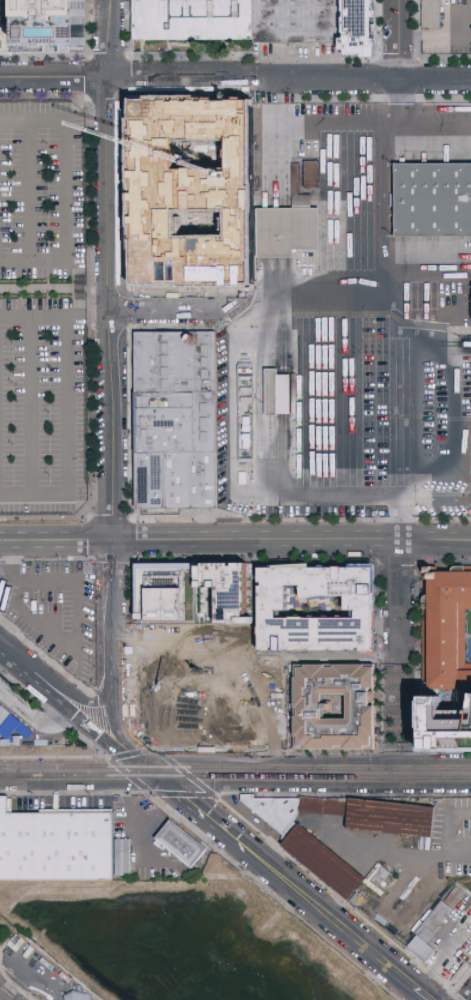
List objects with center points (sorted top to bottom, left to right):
building: (431, 14)
building: (194, 19)
building: (297, 19)
building: (367, 26)
building: (45, 28)
road: (445, 36)
road: (112, 38)
road: (403, 40)
road: (56, 77)
road: (291, 79)
road: (345, 124)
road: (150, 125)
road: (189, 125)
building: (314, 171)
road: (220, 173)
building: (248, 190)
road: (30, 191)
road: (67, 191)
building: (433, 200)
building: (289, 231)
building: (182, 233)
road: (45, 287)
parking lot: (42, 307)
road: (91, 307)
road: (114, 308)
road: (167, 308)
road: (394, 331)
road: (256, 332)
building: (278, 393)
road: (357, 403)
road: (32, 405)
road: (67, 405)
building: (174, 417)
road: (58, 539)
road: (294, 540)
road: (47, 558)
road: (12, 571)
building: (196, 594)
road: (398, 599)
building: (283, 602)
parking lot: (55, 609)
road: (76, 631)
road: (114, 639)
road: (1, 647)
road: (46, 656)
road: (332, 658)
building: (446, 659)
building: (171, 664)
road: (55, 689)
building: (250, 703)
building: (319, 704)
road: (399, 715)
road: (34, 719)
building: (14, 722)
building: (175, 725)
road: (94, 744)
road: (134, 753)
railway: (235, 767)
road: (182, 771)
railway: (263, 771)
road: (338, 772)
railway: (254, 775)
railway: (18, 776)
railway: (18, 777)
road: (80, 783)
building: (294, 807)
road: (129, 810)
building: (395, 814)
building: (181, 844)
building: (60, 845)
road: (217, 847)
road: (405, 853)
building: (326, 859)
road: (294, 885)
building: (435, 925)
road: (4, 951)
road: (33, 973)
road: (5, 983)
road: (13, 984)
railway: (7, 994)
building: (79, 994)
road: (467, 995)

